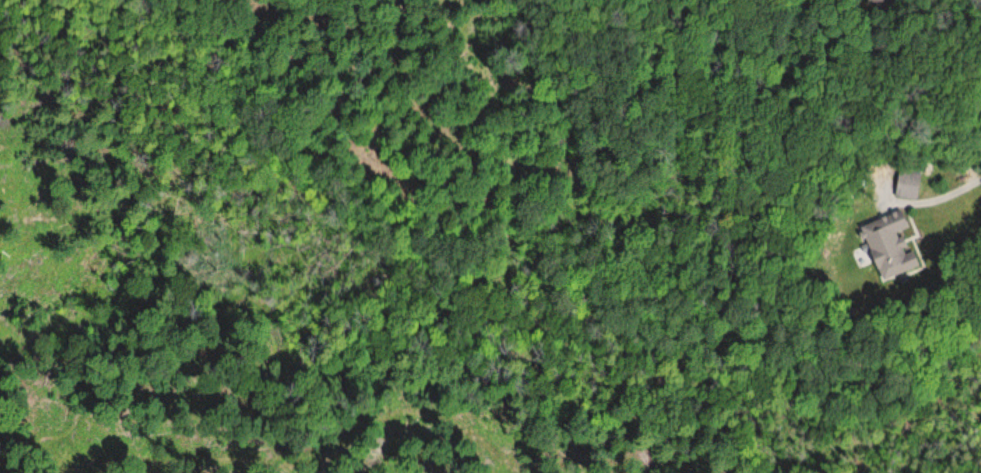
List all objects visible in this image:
building: (883, 0)
building: (905, 185)
building: (887, 245)

